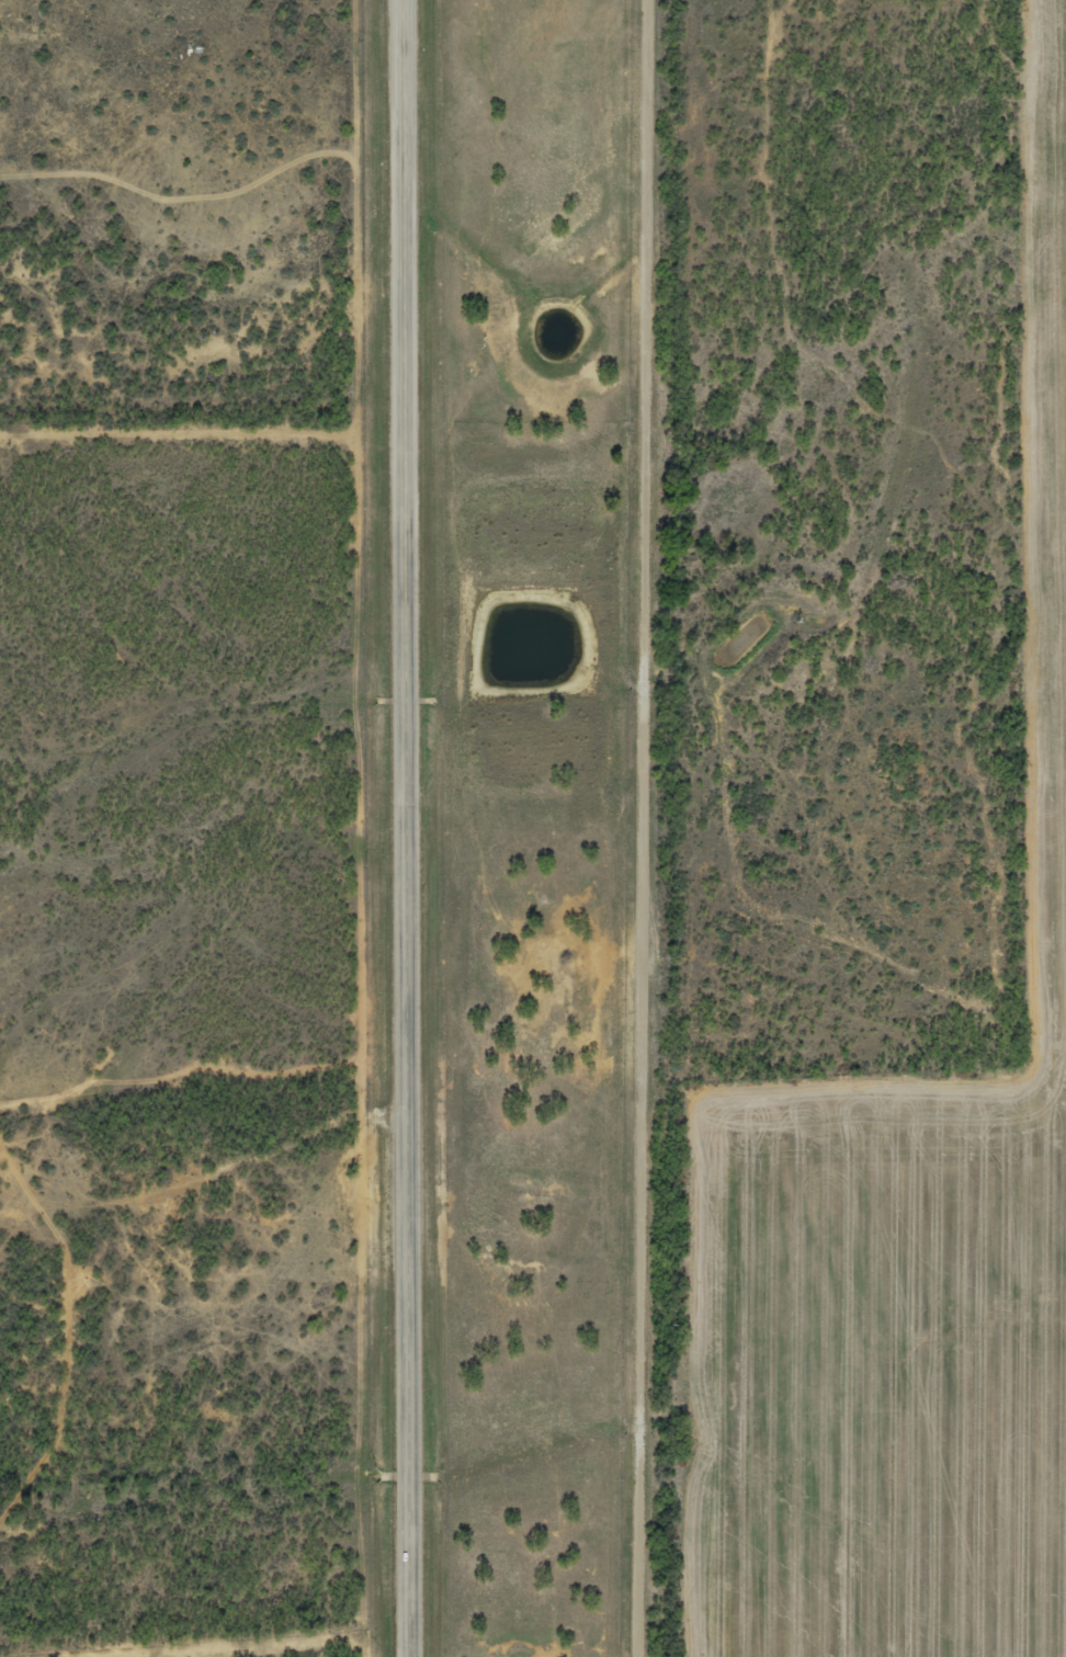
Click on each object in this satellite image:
road: (406, 828)
road: (665, 828)
road: (205, 1185)

